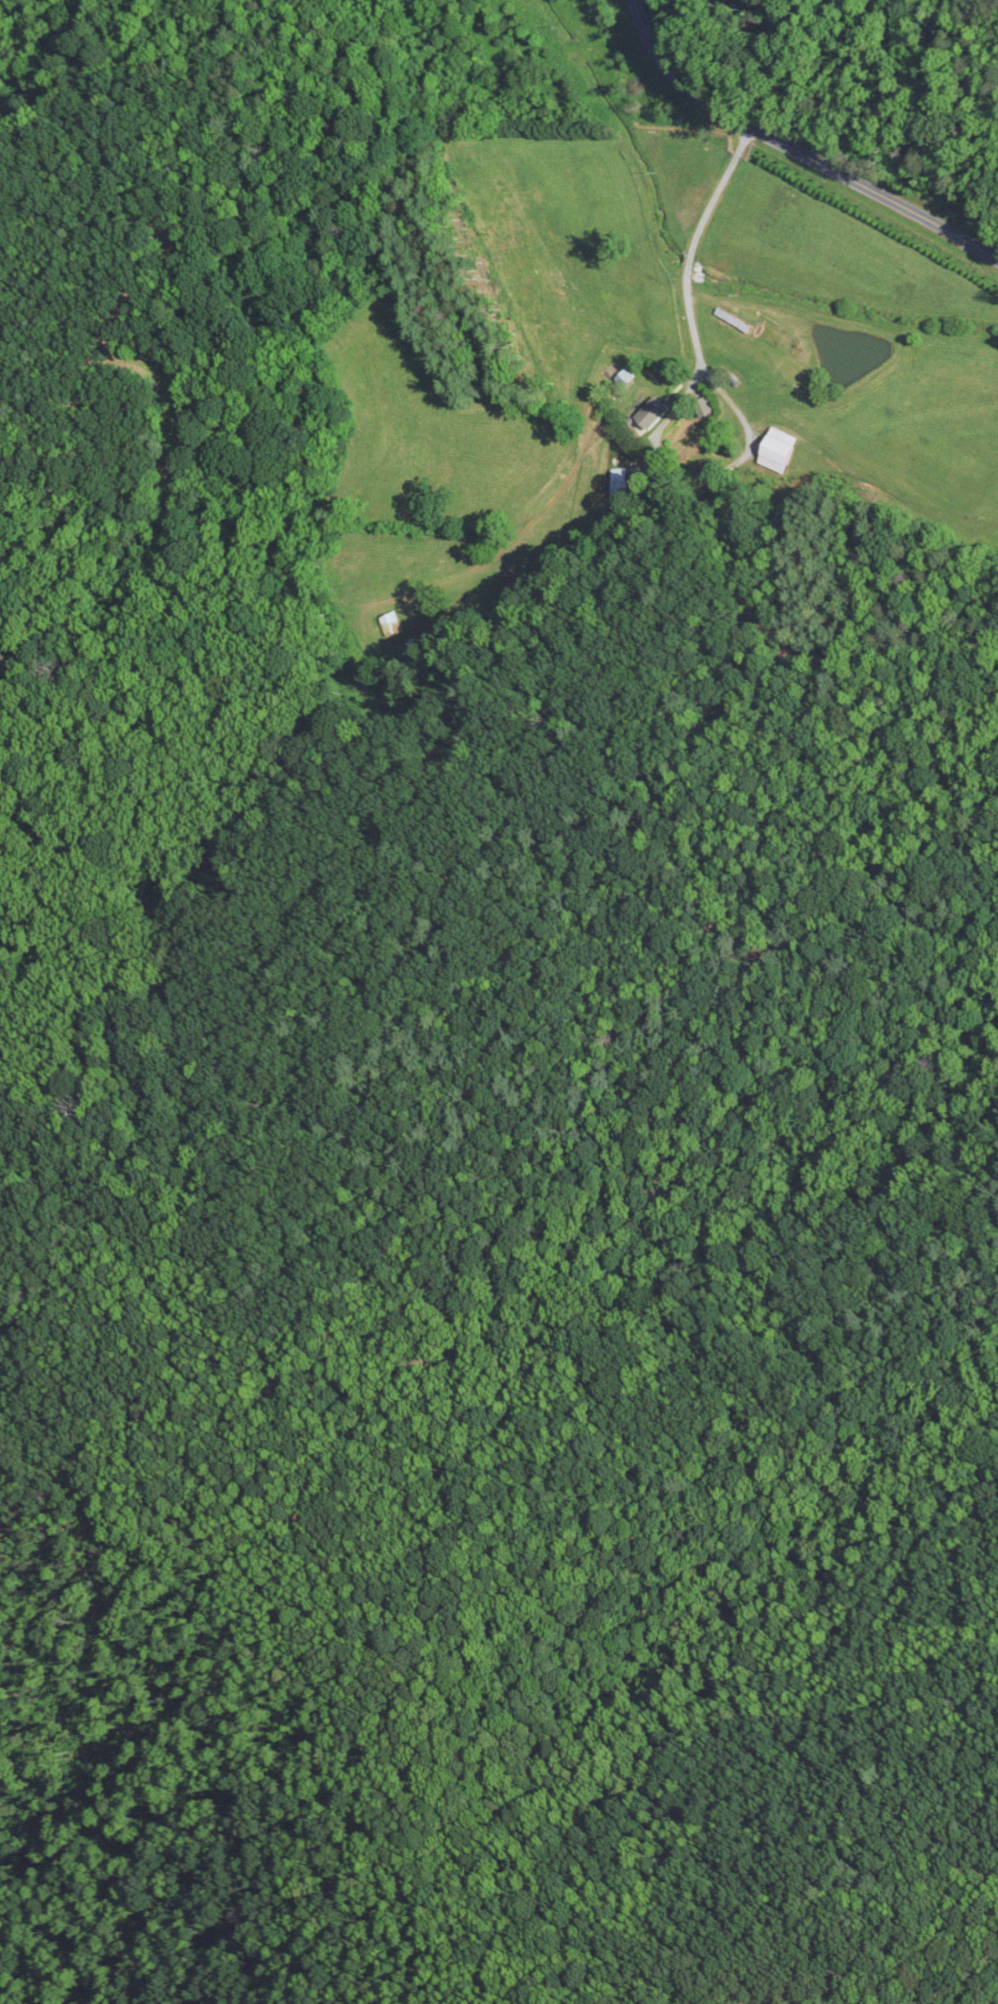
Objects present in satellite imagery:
road: (793, 152)
road: (679, 261)
building: (643, 414)
building: (768, 449)
building: (612, 486)

